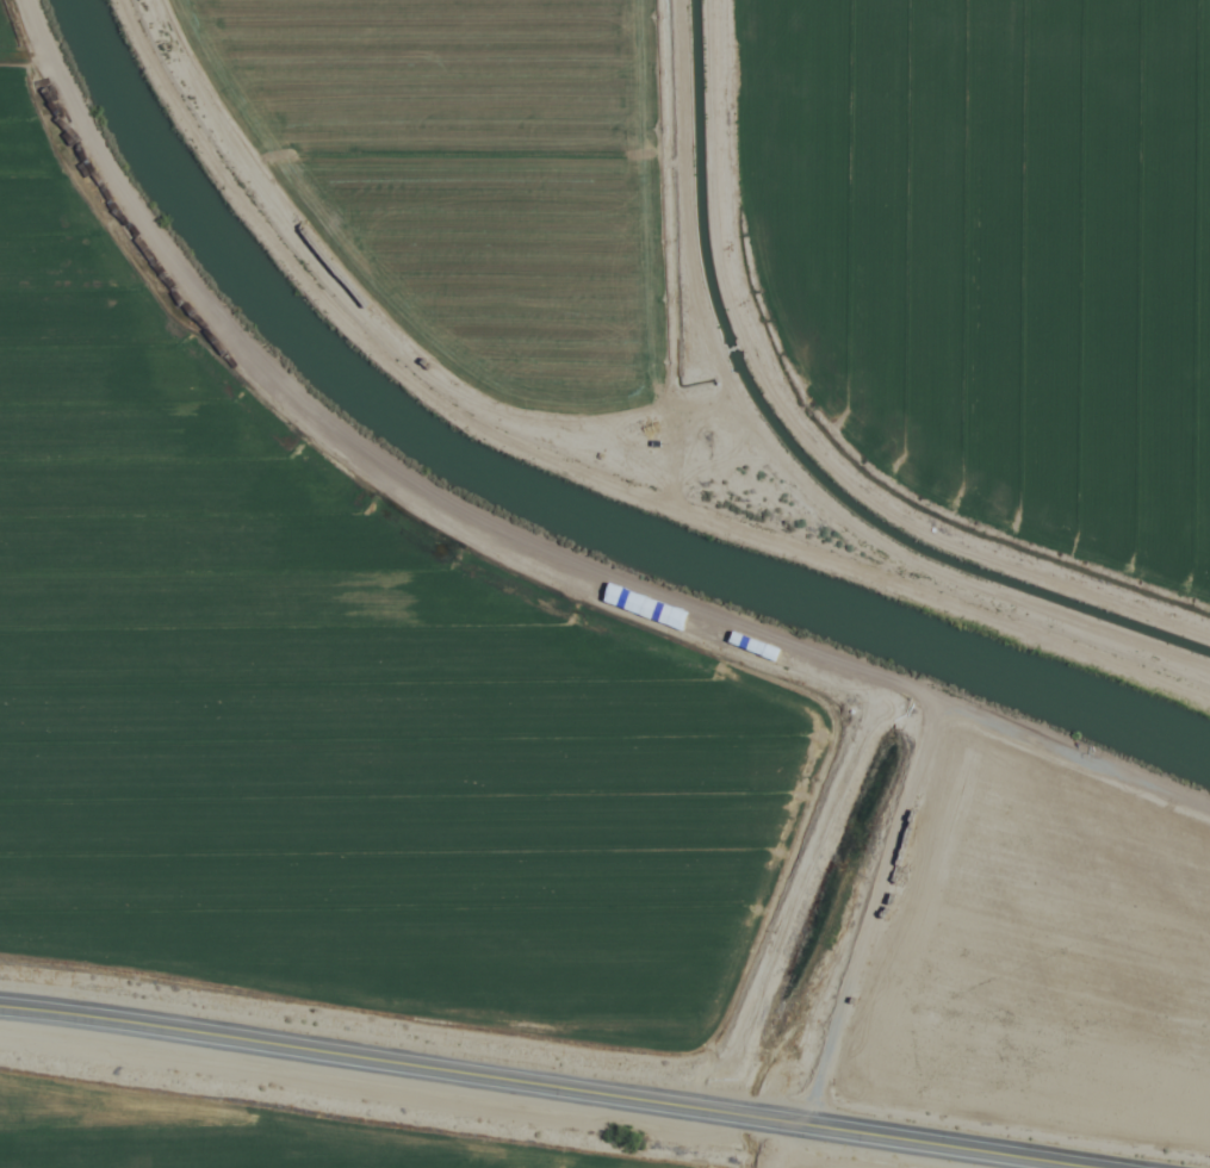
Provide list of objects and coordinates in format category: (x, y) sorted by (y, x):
road: (585, 460)
road: (530, 1088)

